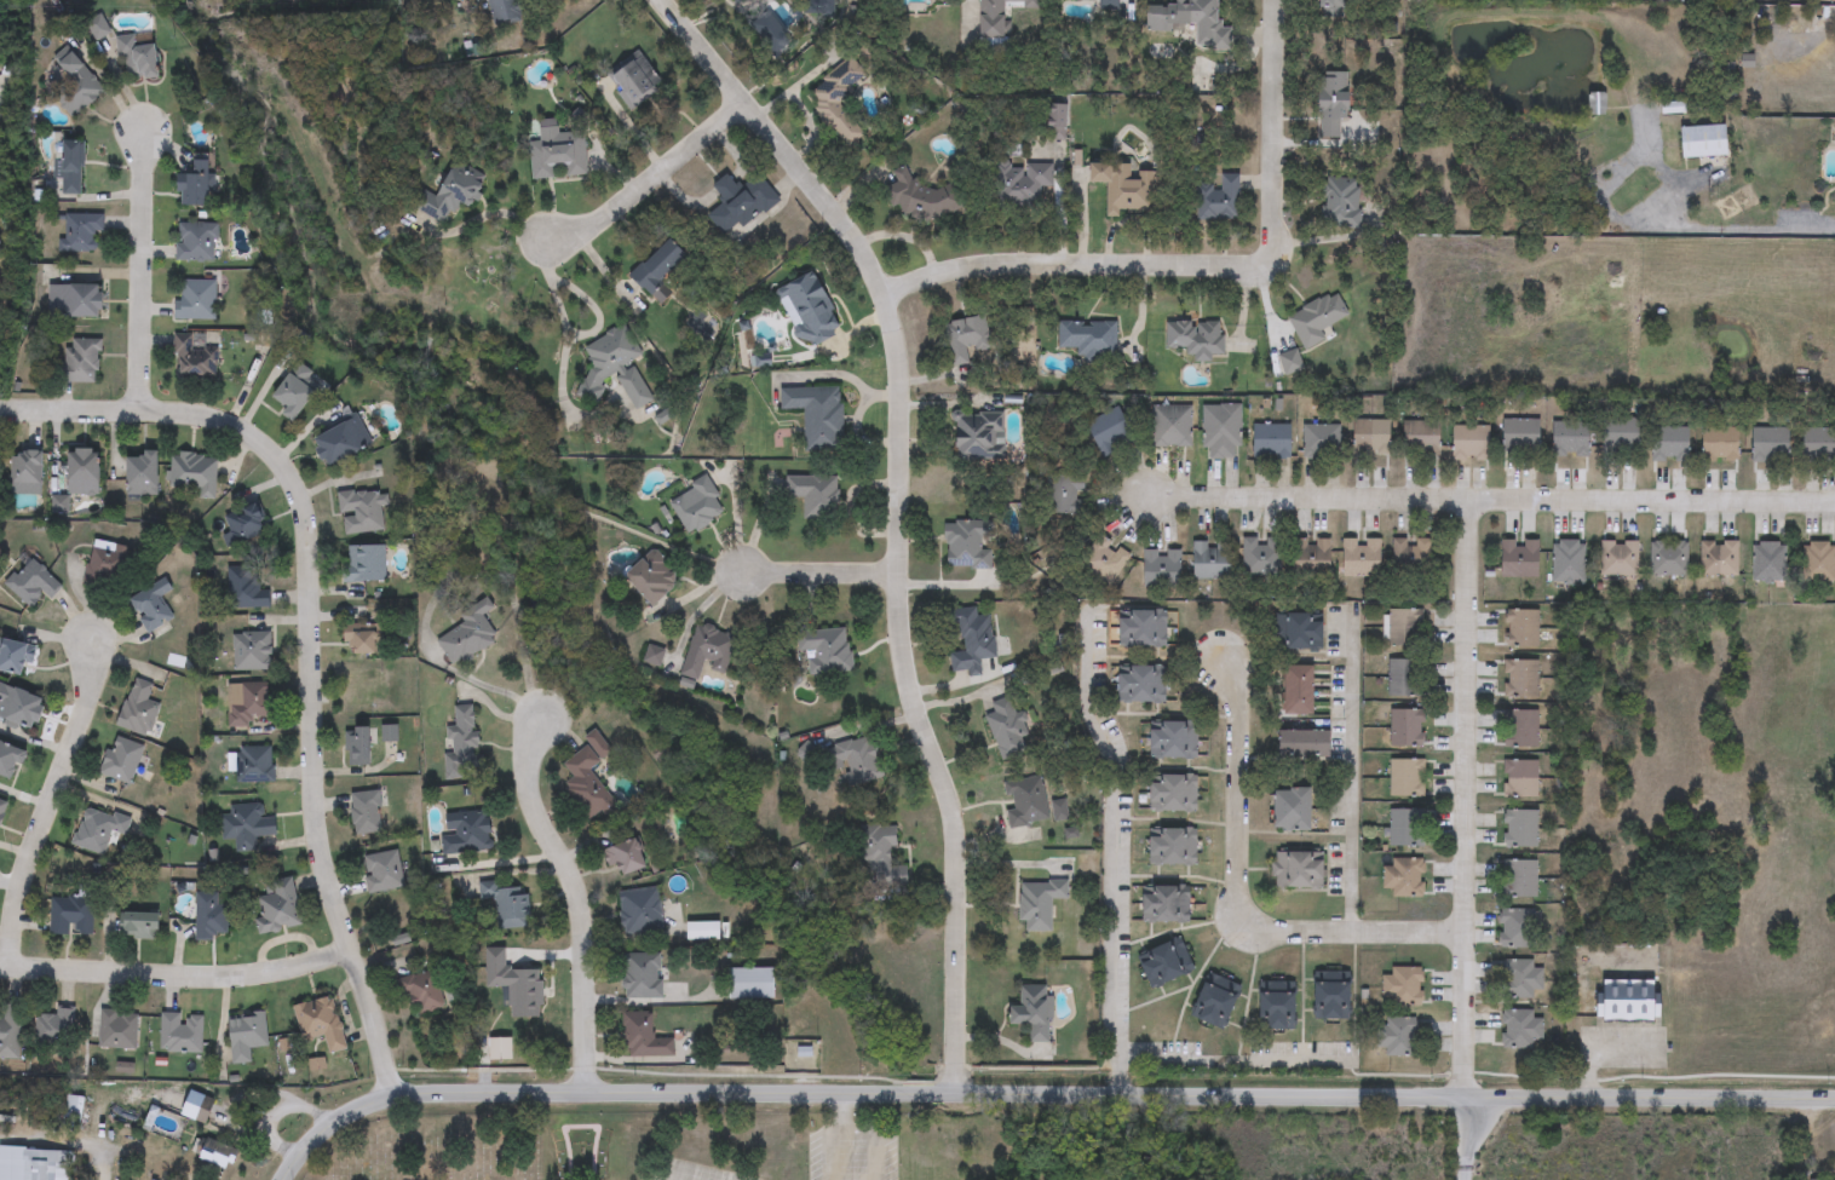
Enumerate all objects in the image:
building: (940, 0)
building: (734, 1)
building: (1336, 4)
building: (1109, 5)
building: (502, 11)
building: (1189, 15)
building: (999, 16)
building: (138, 59)
building: (633, 80)
building: (76, 86)
building: (838, 100)
building: (1335, 105)
building: (1598, 105)
building: (1704, 142)
building: (558, 154)
building: (71, 168)
road: (649, 179)
building: (197, 184)
building: (1022, 185)
building: (1123, 189)
building: (921, 196)
building: (450, 197)
building: (1339, 198)
building: (1219, 200)
building: (740, 203)
road: (482, 215)
building: (81, 234)
road: (1730, 234)
building: (197, 242)
building: (0, 243)
road: (1206, 266)
building: (658, 267)
road: (142, 270)
building: (195, 300)
building: (75, 303)
road: (588, 306)
building: (809, 311)
building: (1316, 320)
road: (560, 333)
building: (966, 339)
building: (1089, 339)
building: (1197, 339)
building: (194, 356)
building: (82, 361)
building: (615, 367)
building: (294, 397)
building: (818, 416)
building: (1172, 427)
building: (1110, 431)
building: (1221, 432)
building: (1373, 434)
building: (980, 436)
building: (1420, 436)
building: (1522, 436)
building: (1571, 439)
building: (1621, 441)
building: (343, 443)
building: (1321, 443)
building: (1472, 443)
building: (1273, 444)
building: (1771, 444)
building: (1670, 445)
building: (1818, 445)
building: (1720, 449)
building: (27, 468)
building: (82, 472)
building: (192, 474)
building: (142, 476)
building: (1065, 495)
building: (815, 496)
road: (1489, 497)
building: (697, 507)
building: (362, 513)
road: (899, 513)
road: (1471, 522)
building: (243, 526)
building: (968, 545)
building: (1264, 558)
building: (1313, 558)
building: (1363, 558)
building: (1620, 559)
building: (1669, 559)
building: (1720, 559)
building: (1214, 560)
building: (1413, 560)
building: (1522, 560)
building: (1104, 562)
building: (1569, 563)
building: (1819, 563)
building: (1770, 564)
building: (366, 565)
building: (107, 566)
building: (1163, 571)
road: (822, 572)
building: (655, 579)
building: (31, 583)
building: (245, 591)
building: (151, 605)
building: (1407, 629)
building: (1143, 631)
building: (1523, 631)
road: (310, 633)
building: (1299, 634)
building: (470, 635)
building: (359, 640)
building: (973, 643)
building: (252, 651)
building: (708, 651)
building: (827, 651)
building: (15, 658)
building: (1403, 679)
building: (1522, 680)
building: (1143, 685)
building: (363, 689)
building: (1301, 692)
building: (247, 703)
building: (19, 709)
building: (138, 709)
building: (1408, 729)
building: (1007, 730)
building: (1522, 730)
building: (1174, 739)
building: (462, 744)
building: (1304, 744)
building: (389, 746)
building: (358, 748)
building: (809, 753)
building: (855, 759)
building: (120, 760)
building: (10, 761)
building: (254, 765)
road: (1346, 767)
building: (588, 779)
building: (1407, 779)
building: (1520, 781)
building: (1173, 794)
building: (1025, 801)
road: (51, 805)
building: (2, 810)
building: (1059, 810)
building: (1294, 811)
building: (366, 813)
road: (1467, 823)
building: (246, 825)
building: (1403, 828)
building: (1520, 829)
building: (97, 830)
building: (467, 833)
building: (882, 845)
building: (1173, 847)
road: (1116, 851)
building: (626, 858)
building: (1296, 871)
building: (384, 873)
building: (1404, 877)
building: (1519, 879)
road: (576, 897)
road: (1238, 899)
building: (1040, 904)
building: (508, 905)
building: (1167, 905)
building: (278, 906)
building: (642, 915)
building: (70, 916)
building: (211, 916)
building: (140, 926)
building: (1517, 929)
building: (704, 932)
building: (1166, 963)
road: (177, 977)
building: (642, 977)
building: (1520, 979)
building: (752, 985)
building: (1403, 988)
building: (426, 994)
building: (1334, 1001)
building: (1629, 1001)
building: (1216, 1002)
building: (1031, 1007)
building: (1278, 1007)
building: (321, 1025)
building: (10, 1028)
building: (54, 1030)
building: (117, 1030)
building: (1520, 1030)
building: (180, 1034)
building: (246, 1036)
building: (1397, 1037)
building: (644, 1038)
road: (1592, 1049)
road: (1235, 1055)
road: (1043, 1092)
road: (234, 1101)
building: (196, 1107)
road: (840, 1113)
road: (851, 1133)
road: (1460, 1139)
park: (474, 1150)
building: (213, 1152)
building: (45, 1164)
road: (103, 1169)

